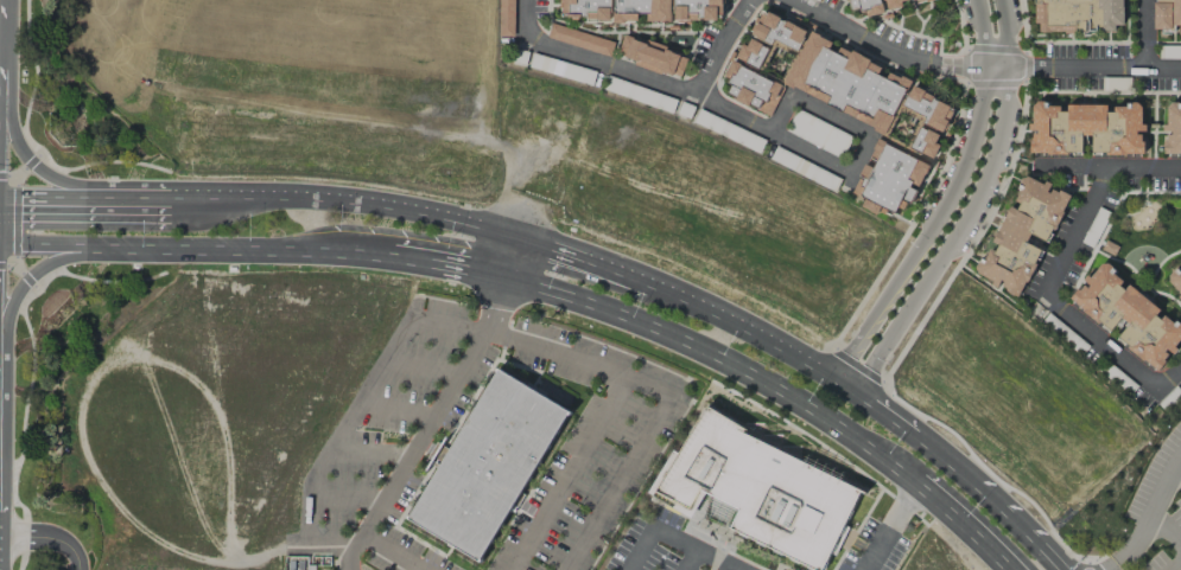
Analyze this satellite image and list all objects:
building: (874, 6)
building: (641, 9)
building: (1167, 14)
building: (1078, 15)
road: (526, 19)
road: (1144, 34)
road: (723, 44)
road: (890, 52)
building: (650, 56)
road: (1093, 66)
road: (697, 91)
building: (843, 101)
road: (826, 114)
building: (1085, 128)
building: (1172, 129)
road: (32, 164)
road: (1073, 167)
road: (40, 201)
road: (133, 201)
road: (948, 201)
traffic signals: (19, 203)
road: (353, 203)
road: (971, 209)
building: (1021, 235)
road: (46, 246)
road: (227, 251)
road: (510, 256)
road: (584, 260)
road: (434, 263)
road: (37, 270)
road: (1053, 277)
building: (1175, 280)
building: (1126, 315)
road: (720, 360)
road: (665, 399)
road: (874, 404)
road: (349, 416)
road: (432, 424)
building: (491, 465)
road: (1176, 473)
road: (1163, 485)
building: (762, 489)
road: (963, 525)
road: (1167, 526)
road: (890, 527)
road: (49, 534)
road: (674, 539)
road: (1135, 546)
road: (393, 552)
road: (1177, 566)

